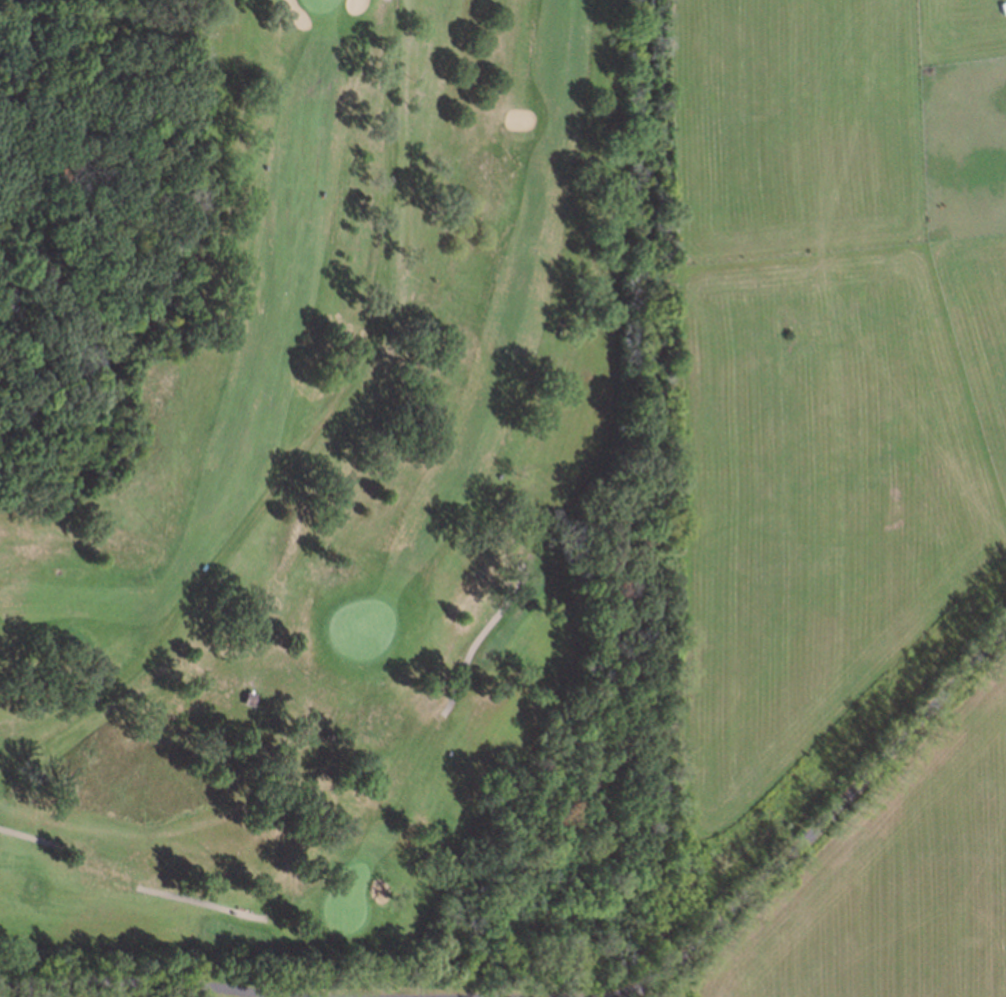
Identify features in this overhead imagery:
building: (1001, 5)
park: (367, 505)
road: (477, 638)
building: (248, 695)
road: (810, 829)
road: (24, 834)
road: (203, 902)
road: (156, 981)

